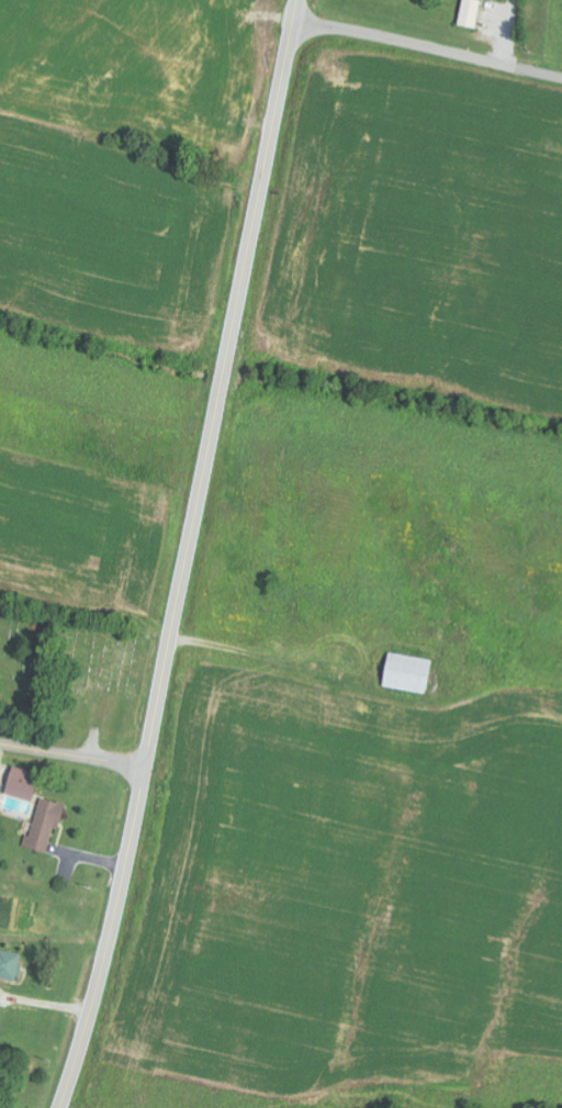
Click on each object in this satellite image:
building: (470, 13)
road: (428, 47)
road: (188, 556)
building: (406, 673)
park: (74, 678)
road: (72, 757)
building: (21, 784)
building: (45, 825)
building: (0, 1007)

